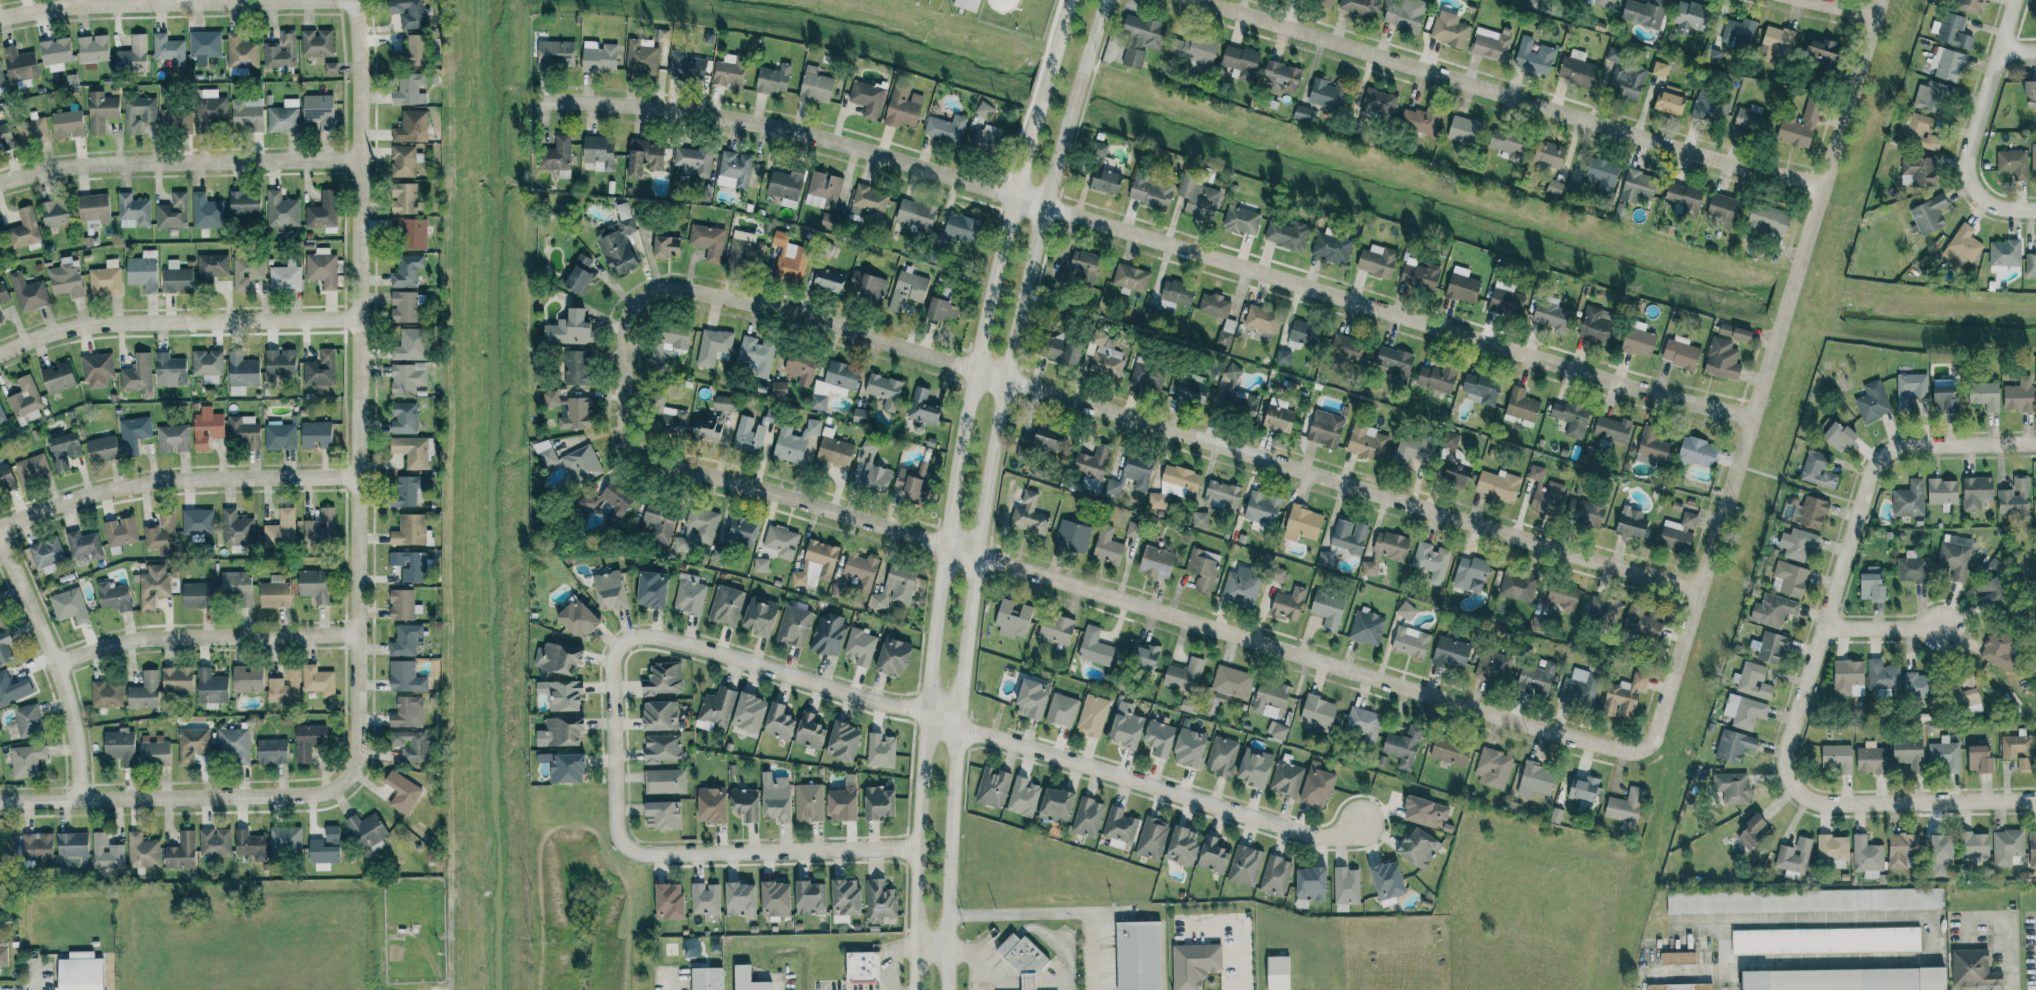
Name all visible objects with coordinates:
building: (1324, 2)
road: (175, 4)
building: (968, 4)
building: (1534, 4)
building: (1605, 4)
building: (1969, 6)
building: (1360, 7)
road: (1848, 7)
building: (408, 12)
building: (1644, 13)
park: (982, 15)
building: (1404, 15)
building: (1690, 17)
building: (1449, 29)
building: (1739, 31)
building: (1951, 31)
building: (663, 36)
building: (1141, 39)
building: (317, 43)
building: (1777, 43)
building: (1491, 44)
building: (205, 46)
building: (93, 49)
building: (168, 49)
building: (416, 50)
building: (1192, 50)
building: (281, 51)
building: (241, 52)
building: (55, 53)
building: (1822, 53)
road: (2018, 53)
building: (133, 54)
building: (556, 55)
building: (1614, 55)
building: (1533, 56)
building: (600, 59)
building: (640, 59)
building: (1241, 62)
building: (20, 64)
building: (1948, 64)
building: (686, 67)
building: (1577, 69)
building: (1660, 69)
building: (729, 71)
building: (1282, 75)
building: (1, 79)
building: (773, 79)
building: (1626, 81)
building: (815, 86)
building: (408, 89)
building: (2030, 94)
building: (1328, 95)
road: (1507, 97)
building: (1931, 97)
building: (867, 99)
building: (1669, 100)
building: (1379, 102)
building: (903, 107)
building: (1710, 107)
building: (210, 110)
building: (319, 110)
building: (984, 110)
building: (101, 111)
building: (1302, 112)
building: (139, 113)
building: (248, 113)
building: (284, 117)
building: (176, 119)
building: (1421, 121)
building: (1752, 121)
building: (68, 124)
building: (1800, 126)
building: (406, 128)
building: (946, 128)
road: (1978, 128)
building: (1464, 129)
building: (36, 130)
building: (1919, 132)
building: (6, 136)
building: (988, 141)
building: (1509, 144)
building: (599, 152)
building: (1549, 154)
building: (2033, 156)
building: (644, 158)
building: (403, 161)
building: (693, 161)
road: (178, 162)
building: (2013, 163)
building: (734, 170)
building: (1101, 171)
building: (1918, 171)
building: (1602, 175)
building: (786, 184)
building: (1554, 187)
building: (1637, 187)
building: (823, 190)
building: (1149, 191)
building: (1197, 196)
building: (405, 198)
building: (1684, 198)
building: (868, 202)
building: (244, 203)
building: (94, 210)
building: (281, 210)
building: (1724, 210)
building: (133, 211)
building: (323, 211)
building: (173, 212)
building: (207, 212)
building: (55, 213)
building: (915, 214)
building: (1929, 215)
building: (1768, 218)
building: (1241, 220)
building: (829, 221)
building: (963, 227)
building: (24, 229)
building: (412, 234)
building: (1286, 234)
building: (0, 237)
road: (1150, 238)
building: (708, 241)
building: (618, 242)
building: (1962, 246)
building: (667, 247)
building: (1331, 248)
building: (746, 250)
building: (2004, 255)
building: (789, 257)
building: (1377, 261)
building: (2030, 265)
building: (1083, 266)
building: (211, 267)
building: (322, 268)
building: (143, 270)
building: (247, 270)
building: (407, 271)
building: (578, 274)
building: (1421, 275)
building: (286, 277)
building: (1062, 277)
building: (67, 278)
building: (177, 278)
building: (1131, 278)
building: (106, 279)
building: (828, 280)
building: (1462, 286)
building: (868, 287)
building: (908, 290)
building: (28, 292)
building: (1177, 292)
building: (3, 293)
building: (1506, 302)
building: (1214, 305)
building: (404, 307)
building: (942, 309)
building: (1550, 317)
building: (1262, 319)
building: (1, 320)
road: (175, 322)
building: (1594, 326)
building: (570, 329)
building: (1226, 332)
building: (1305, 334)
building: (1741, 334)
building: (1638, 339)
building: (667, 341)
building: (410, 345)
building: (713, 346)
building: (1061, 349)
building: (1349, 351)
building: (1680, 353)
building: (757, 355)
building: (1105, 356)
building: (1283, 357)
building: (1722, 360)
building: (1395, 362)
building: (280, 363)
building: (208, 365)
building: (577, 367)
building: (801, 367)
building: (97, 369)
building: (320, 369)
building: (170, 370)
building: (1232, 371)
building: (242, 373)
building: (138, 375)
road: (1761, 375)
building: (1147, 376)
building: (58, 377)
building: (407, 378)
building: (1435, 378)
building: (835, 382)
building: (779, 388)
building: (1189, 388)
building: (1482, 388)
building: (1910, 388)
building: (884, 390)
building: (1985, 395)
building: (2019, 395)
building: (1944, 396)
building: (25, 397)
building: (551, 399)
building: (1872, 402)
building: (724, 403)
building: (1239, 403)
building: (1521, 405)
road: (1093, 406)
building: (923, 407)
building: (577, 414)
building: (2, 415)
building: (860, 416)
building: (404, 418)
building: (667, 418)
building: (1278, 418)
building: (1570, 418)
building: (207, 427)
building: (1325, 428)
building: (707, 429)
building: (1612, 429)
building: (244, 430)
building: (134, 434)
building: (316, 434)
building: (748, 435)
building: (280, 436)
building: (1838, 436)
building: (173, 438)
building: (794, 442)
building: (1367, 442)
building: (1041, 443)
road: (1961, 445)
building: (869, 446)
building: (1652, 447)
building: (1413, 448)
building: (102, 449)
building: (64, 450)
building: (411, 451)
building: (834, 452)
building: (1698, 452)
building: (545, 453)
building: (1092, 462)
building: (1453, 463)
building: (582, 465)
building: (32, 468)
building: (1818, 470)
building: (1131, 474)
building: (876, 477)
building: (6, 478)
road: (174, 479)
building: (1181, 480)
building: (914, 483)
building: (1498, 485)
road: (953, 486)
road: (986, 488)
building: (1942, 491)
building: (405, 492)
building: (1545, 492)
building: (1976, 492)
building: (1222, 495)
building: (2014, 496)
building: (1909, 499)
building: (1157, 501)
building: (616, 502)
building: (1262, 508)
building: (1810, 512)
building: (1584, 513)
building: (1028, 514)
building: (1200, 519)
building: (197, 521)
building: (659, 522)
building: (1302, 523)
building: (1632, 524)
building: (321, 527)
building: (237, 528)
building: (697, 528)
building: (281, 529)
building: (410, 530)
building: (1134, 530)
building: (121, 531)
building: (1678, 533)
building: (162, 534)
road: (1854, 534)
building: (1348, 535)
building: (1072, 536)
building: (781, 542)
building: (1798, 544)
building: (84, 545)
building: (1107, 547)
building: (1386, 551)
building: (47, 555)
building: (822, 557)
building: (1326, 558)
building: (1432, 561)
building: (1156, 562)
road: (355, 564)
building: (410, 565)
building: (761, 565)
building: (1911, 568)
building: (860, 569)
building: (1203, 569)
building: (1278, 574)
building: (1471, 574)
building: (798, 578)
building: (1789, 579)
building: (900, 583)
building: (1871, 584)
building: (314, 585)
building: (1241, 585)
building: (154, 586)
building: (237, 586)
building: (1518, 586)
building: (610, 590)
building: (652, 590)
building: (275, 592)
building: (1989, 592)
building: (197, 595)
building: (689, 595)
building: (114, 597)
building: (1562, 597)
building: (879, 601)
building: (1288, 603)
road: (1134, 604)
building: (403, 605)
building: (726, 605)
building: (69, 606)
building: (1604, 609)
building: (1328, 610)
building: (1773, 610)
building: (1406, 611)
building: (760, 616)
building: (579, 619)
building: (1012, 619)
building: (1, 622)
building: (1537, 622)
building: (1641, 623)
road: (1884, 625)
building: (793, 626)
building: (1367, 627)
building: (1054, 628)
building: (828, 634)
road: (201, 637)
building: (405, 640)
building: (1410, 642)
building: (859, 647)
building: (1769, 647)
building: (5, 648)
building: (1096, 648)
building: (1998, 651)
building: (1450, 653)
building: (893, 657)
building: (1145, 657)
building: (557, 658)
building: (1494, 665)
road: (53, 667)
building: (1183, 675)
building: (406, 677)
building: (1848, 677)
building: (1882, 677)
building: (177, 679)
building: (247, 679)
building: (663, 679)
building: (1536, 679)
building: (318, 680)
building: (1753, 681)
building: (1231, 683)
building: (284, 684)
building: (1918, 686)
building: (211, 688)
building: (1579, 688)
building: (13, 689)
building: (145, 691)
building: (1965, 693)
building: (107, 694)
building: (562, 695)
building: (1624, 696)
building: (1032, 699)
building: (1270, 699)
building: (717, 708)
building: (1062, 710)
building: (405, 711)
building: (1318, 711)
building: (1744, 711)
building: (749, 713)
building: (660, 715)
building: (1092, 716)
road: (613, 718)
building: (28, 721)
building: (779, 722)
building: (1364, 724)
building: (1126, 729)
building: (1277, 730)
building: (564, 731)
building: (810, 732)
building: (1159, 738)
building: (308, 740)
building: (843, 741)
building: (234, 743)
building: (192, 745)
building: (1734, 745)
building: (120, 746)
building: (411, 746)
building: (1403, 746)
building: (663, 748)
building: (1189, 748)
building: (880, 750)
building: (272, 751)
building: (1450, 751)
building: (2018, 751)
building: (155, 753)
building: (1909, 753)
building: (1945, 755)
building: (1222, 756)
building: (1837, 758)
building: (1979, 758)
building: (1871, 759)
building: (26, 760)
building: (565, 767)
building: (1255, 767)
building: (1493, 769)
building: (1286, 778)
building: (1535, 780)
building: (665, 781)
building: (1317, 786)
building: (993, 787)
building: (1731, 787)
building: (1584, 789)
road: (1160, 790)
building: (402, 792)
building: (776, 797)
building: (1023, 797)
building: (809, 802)
building: (879, 802)
building: (745, 804)
building: (842, 804)
road: (1827, 804)
building: (712, 805)
building: (1056, 805)
building: (1625, 806)
building: (1425, 812)
building: (663, 815)
building: (1088, 817)
building: (366, 830)
building: (1753, 832)
building: (1152, 838)
building: (285, 839)
building: (214, 842)
building: (37, 845)
building: (250, 845)
building: (1974, 845)
building: (1183, 846)
building: (2007, 846)
building: (72, 848)
building: (1418, 848)
building: (2032, 848)
building: (325, 849)
building: (1902, 849)
building: (1833, 850)
building: (142, 851)
building: (106, 852)
building: (181, 852)
building: (1213, 855)
building: (1867, 857)
building: (1794, 858)
building: (1245, 865)
building: (1275, 876)
building: (1387, 882)
building: (1310, 885)
building: (1346, 886)
building: (845, 897)
building: (811, 898)
building: (740, 899)
building: (775, 899)
building: (669, 901)
building: (705, 901)
building: (1804, 901)
building: (879, 902)
road: (1060, 912)
road: (2010, 931)
road: (1237, 932)
road: (1725, 933)
building: (1825, 940)
building: (691, 948)
road: (968, 948)
building: (3, 955)
building: (1139, 956)
building: (1678, 958)
building: (1023, 959)
road: (892, 960)
road: (431, 964)
building: (1194, 964)
building: (862, 966)
building: (1972, 969)
building: (81, 972)
building: (1278, 973)
road: (39, 979)
building: (707, 979)
building: (747, 979)
building: (1846, 979)
road: (916, 987)
building: (1680, 987)

